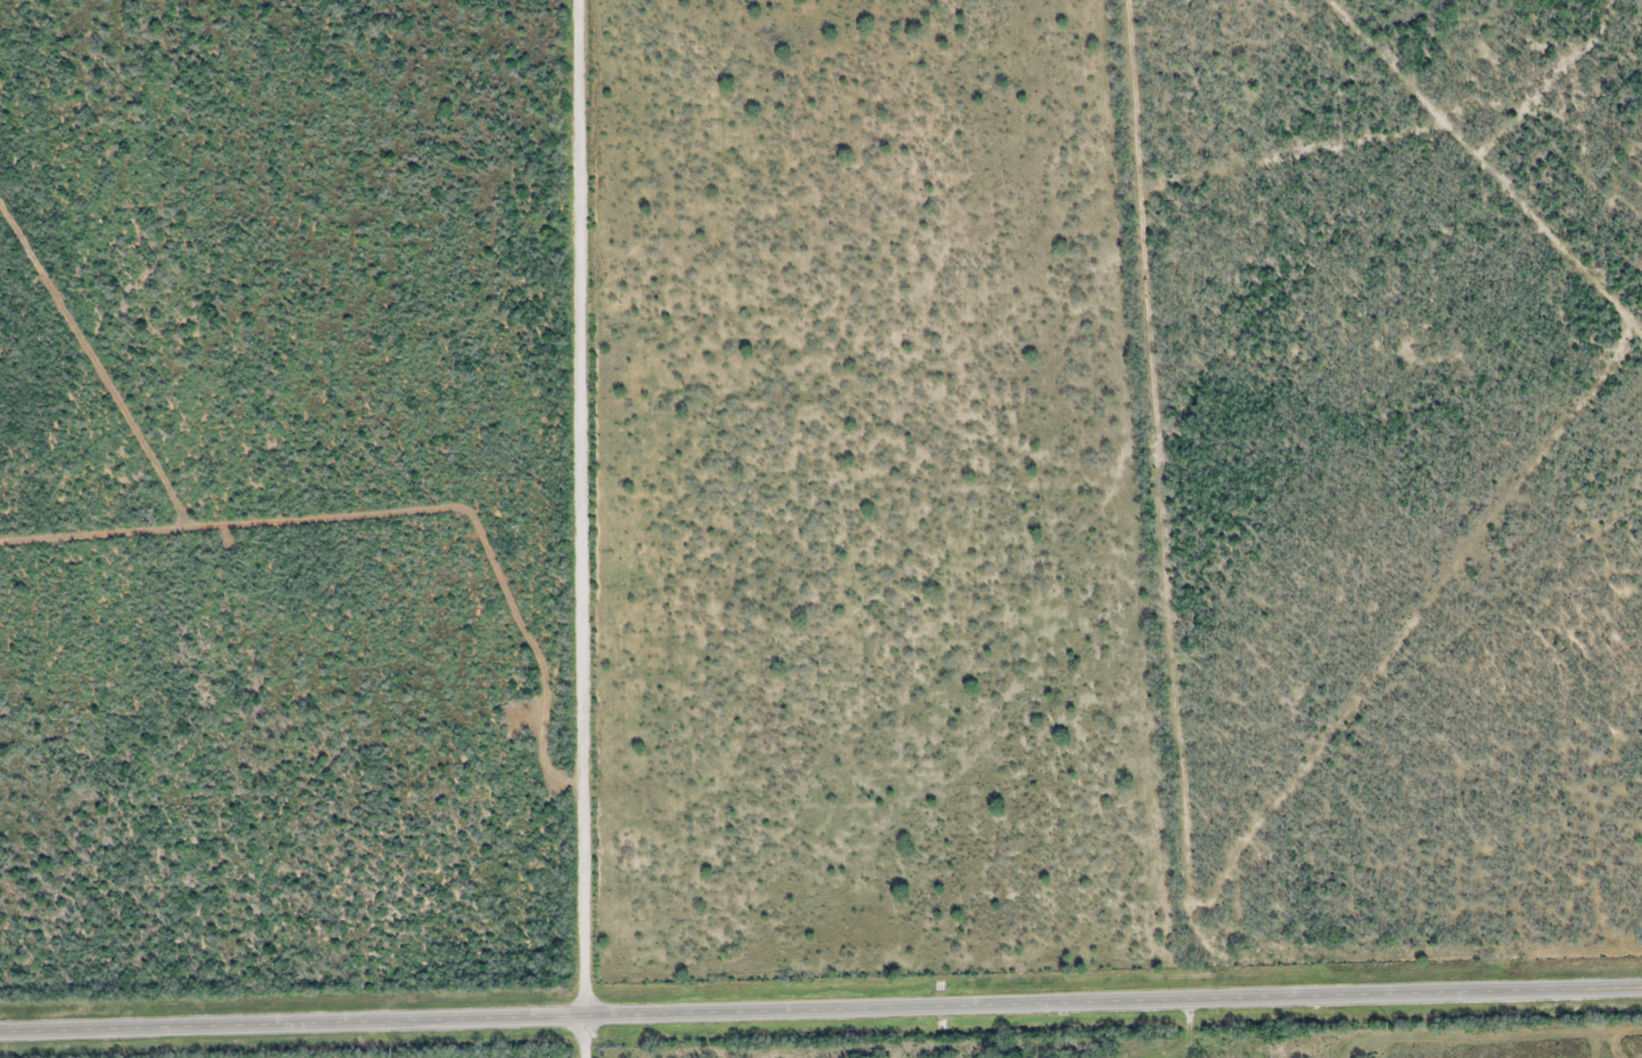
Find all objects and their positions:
road: (582, 528)
road: (820, 1008)

